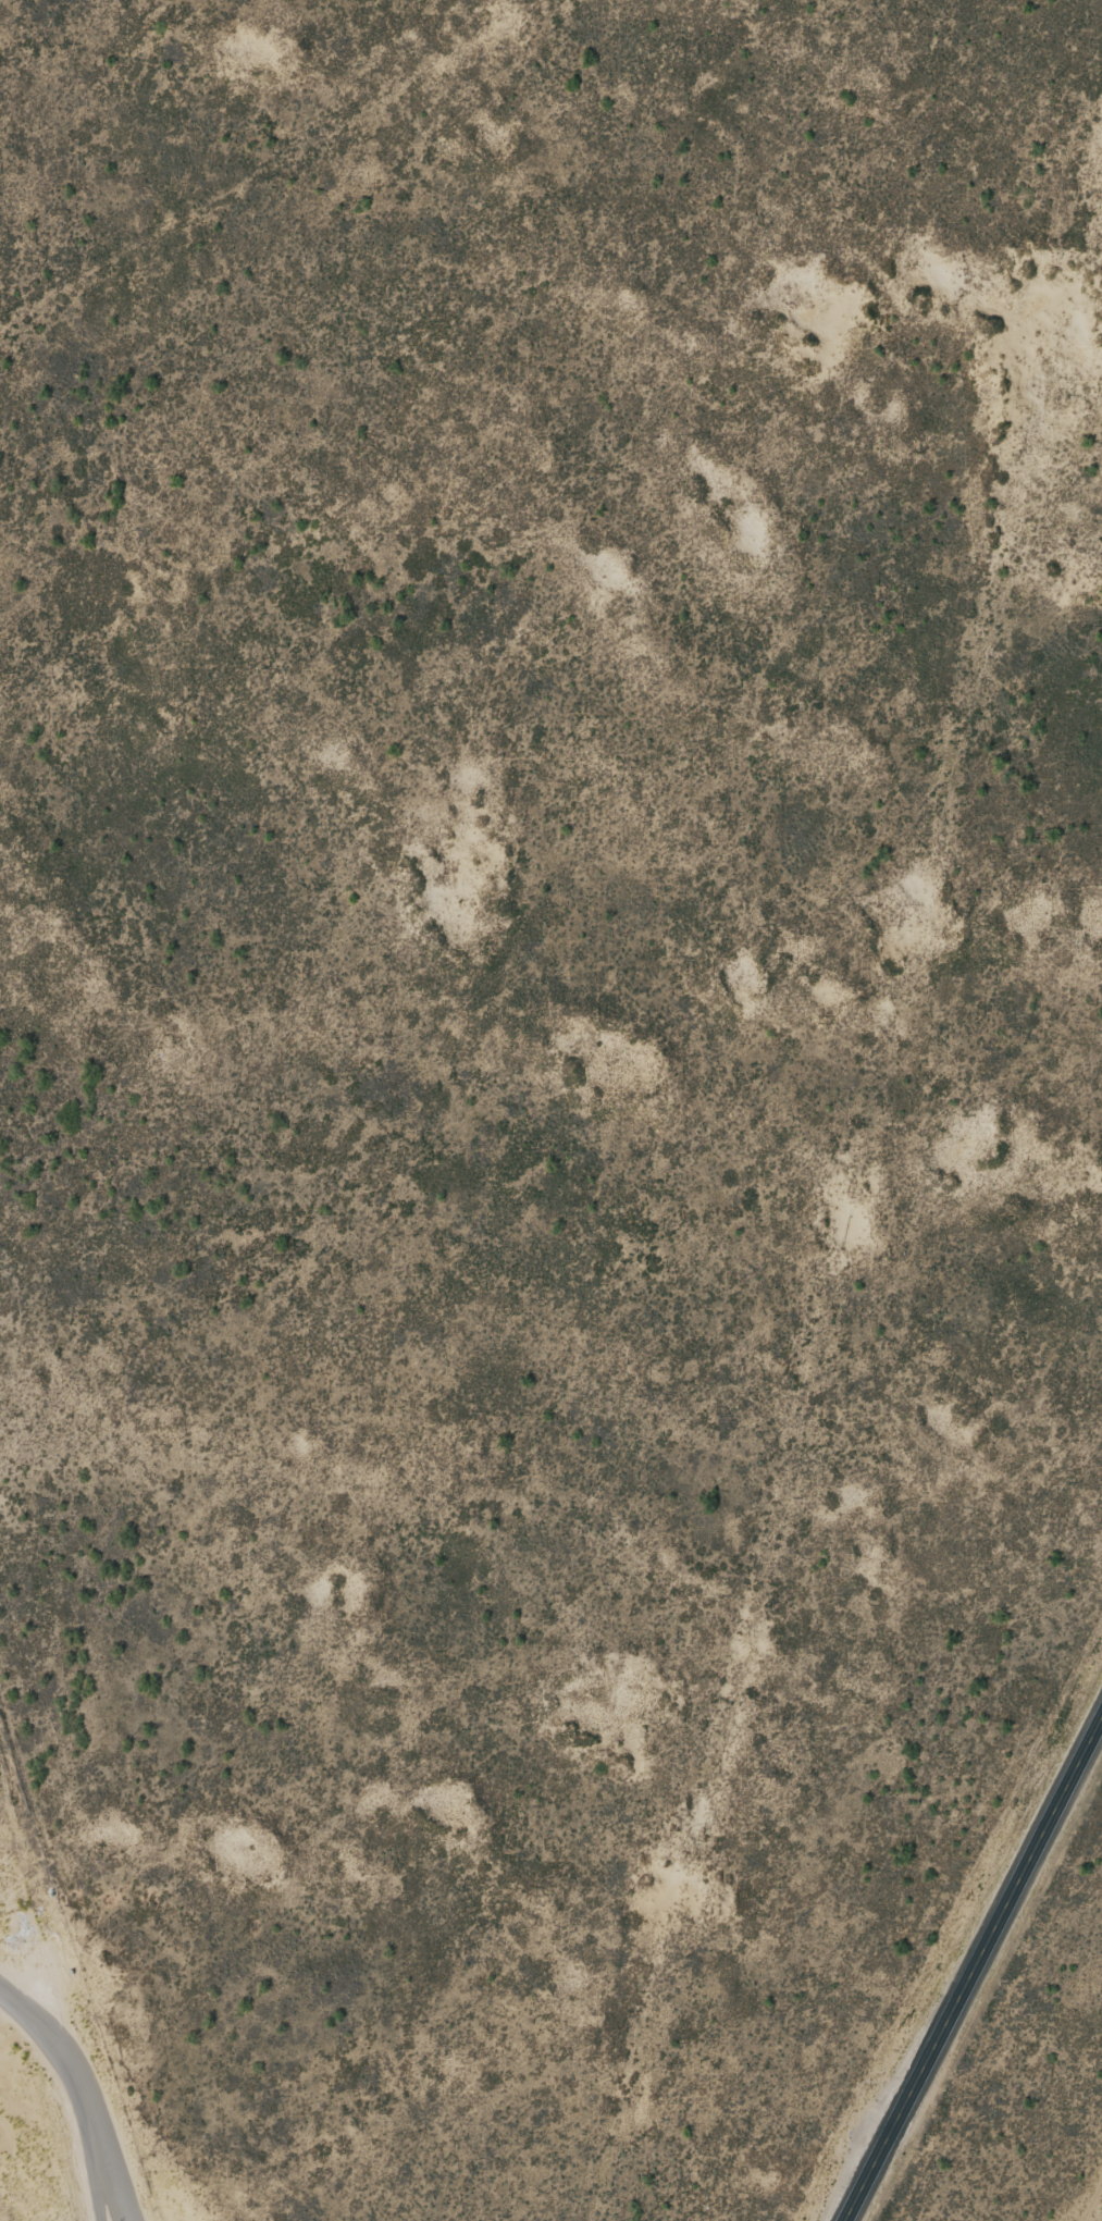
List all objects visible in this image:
road: (971, 1965)

